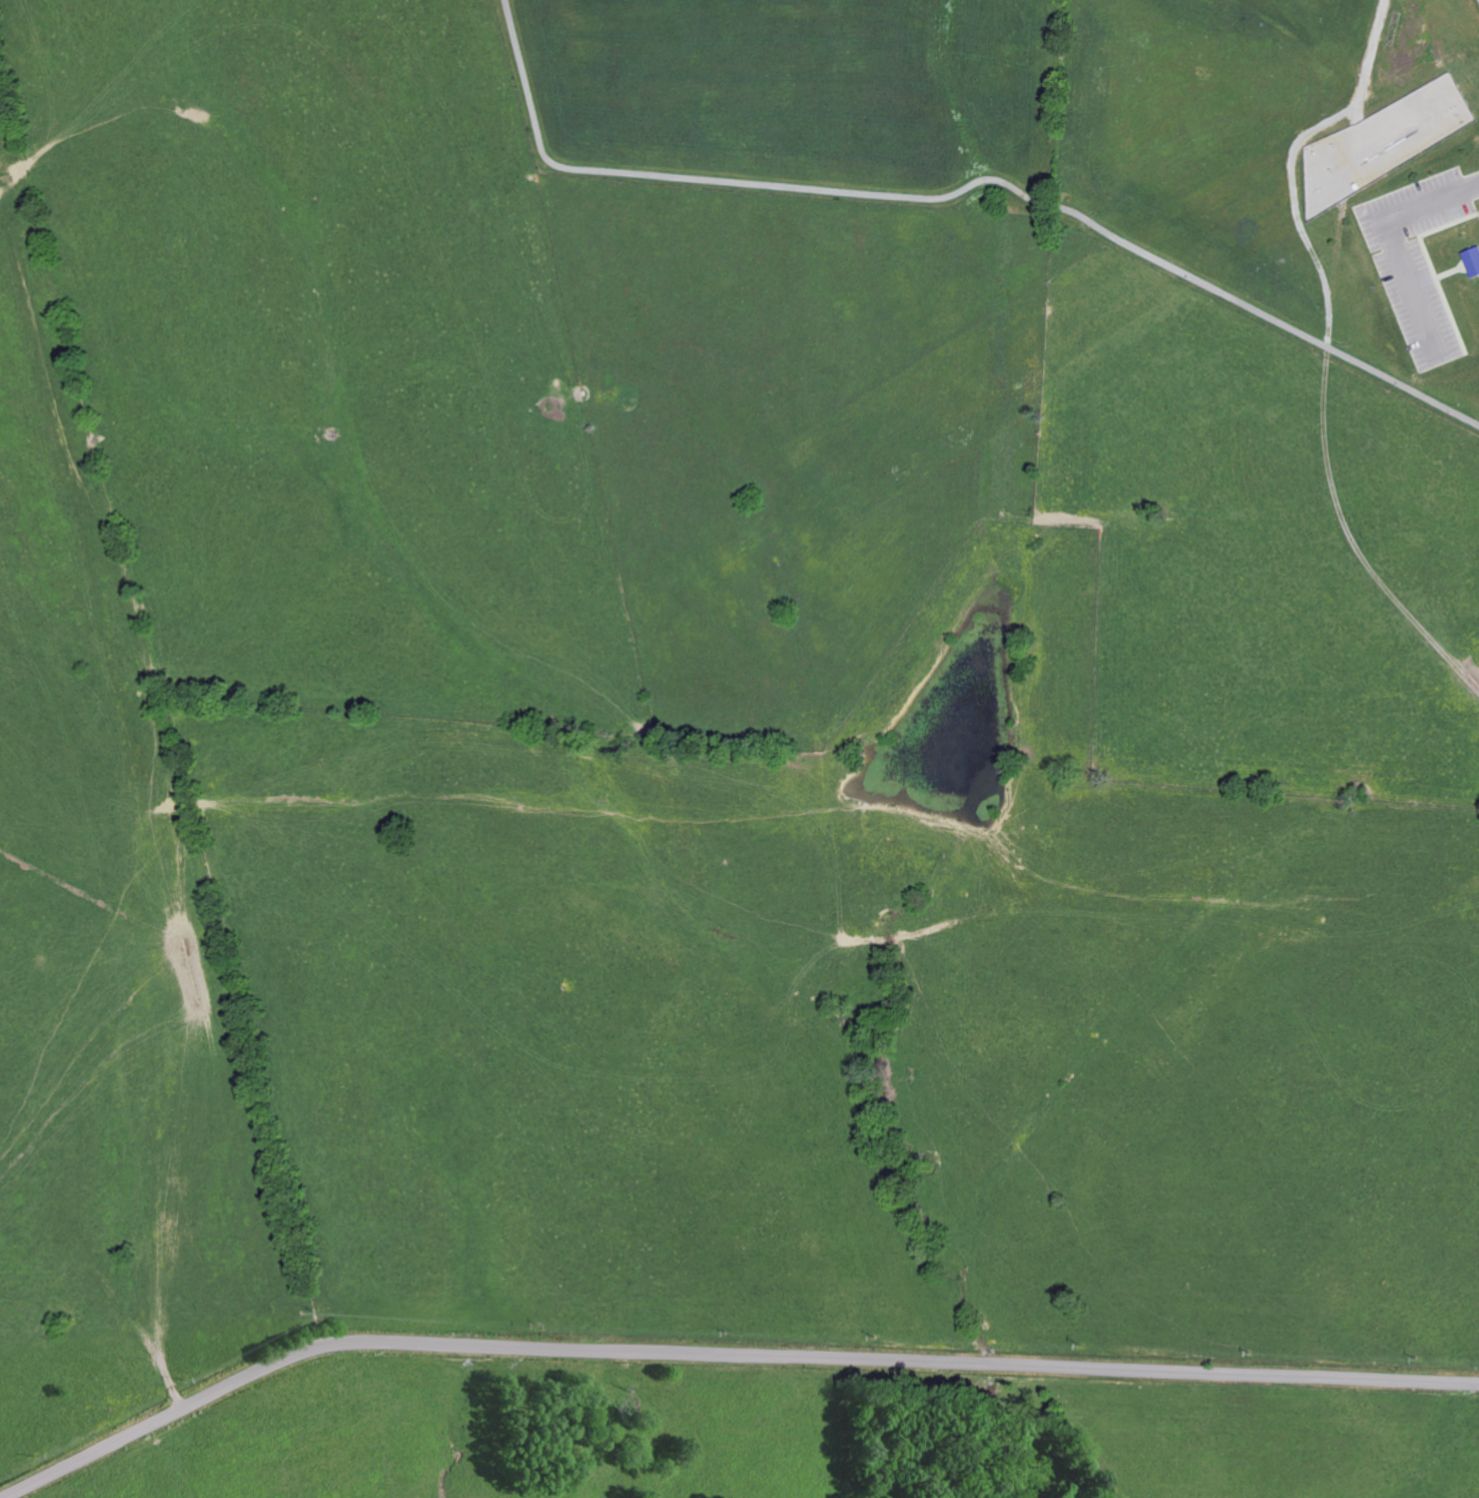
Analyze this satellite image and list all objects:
road: (1362, 83)
road: (1357, 112)
park: (1079, 144)
road: (959, 190)
road: (1296, 214)
road: (1394, 240)
building: (1473, 260)
road: (1357, 540)
road: (723, 1353)

